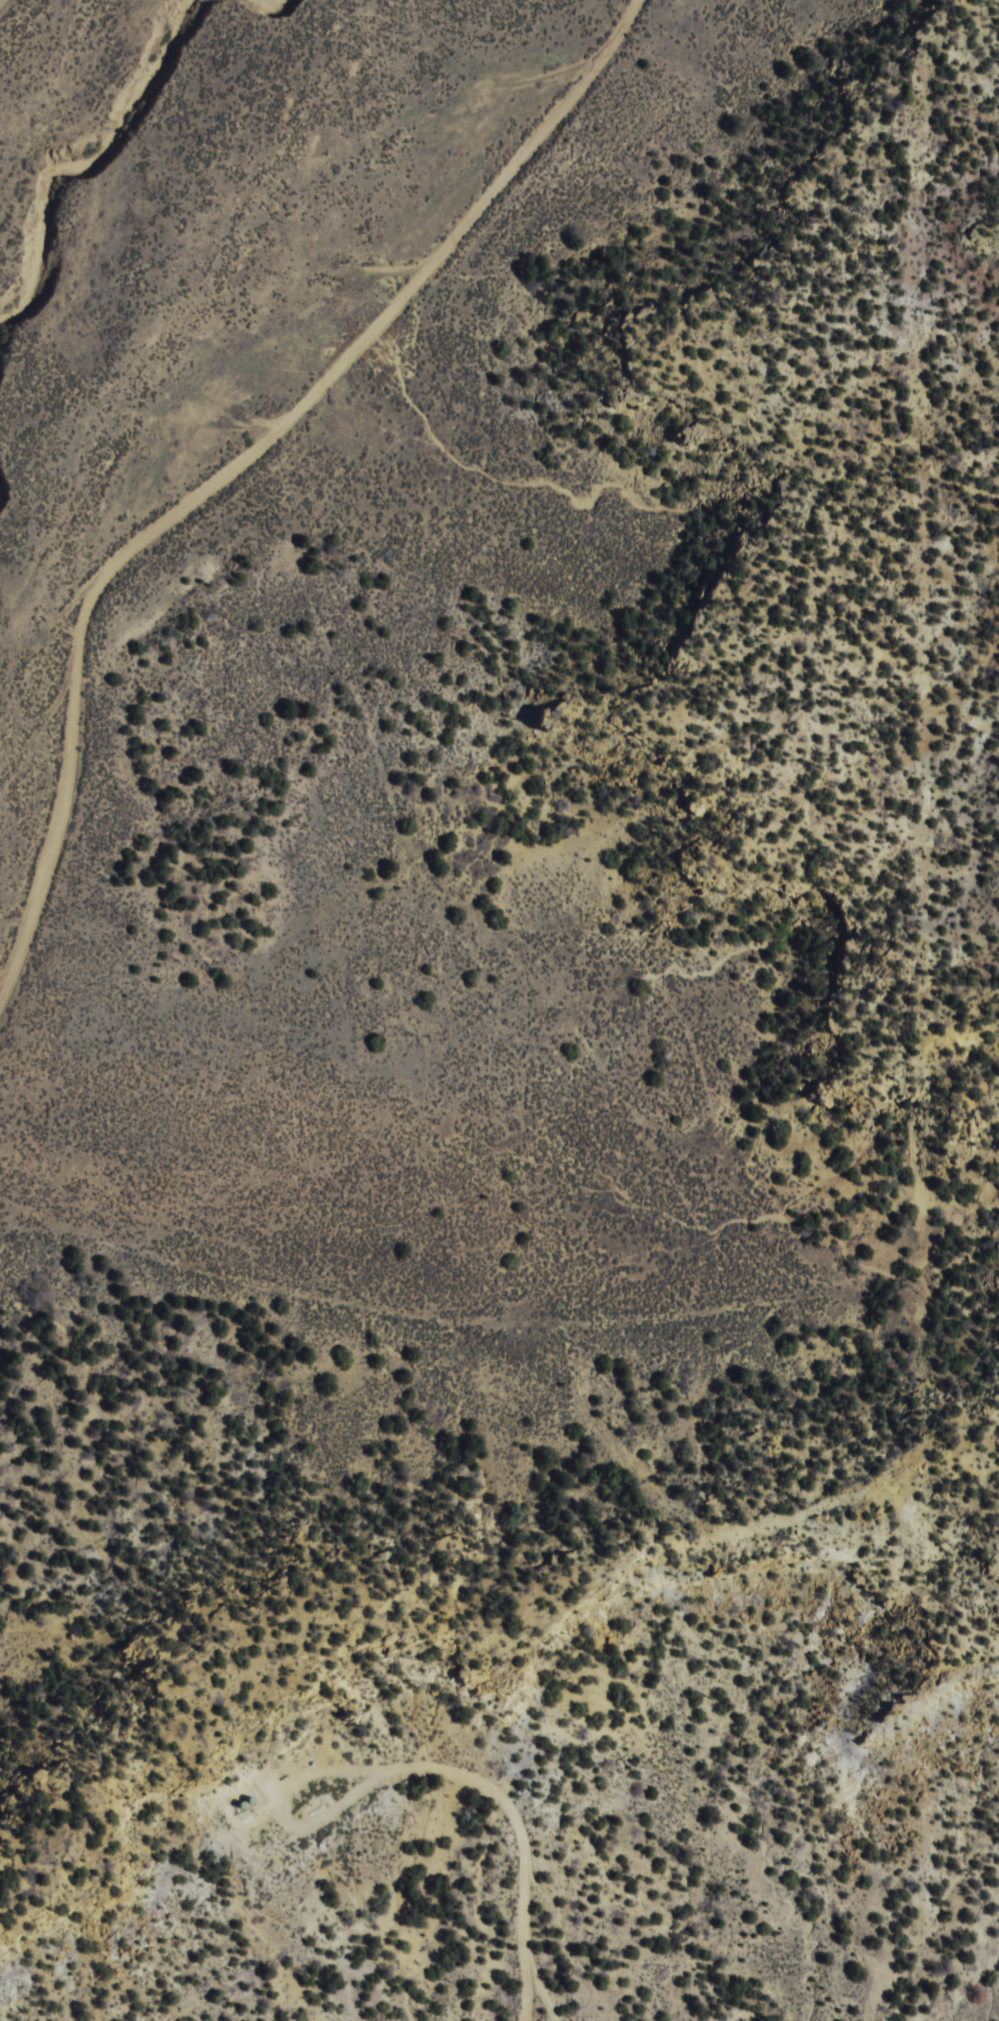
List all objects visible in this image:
road: (226, 471)

